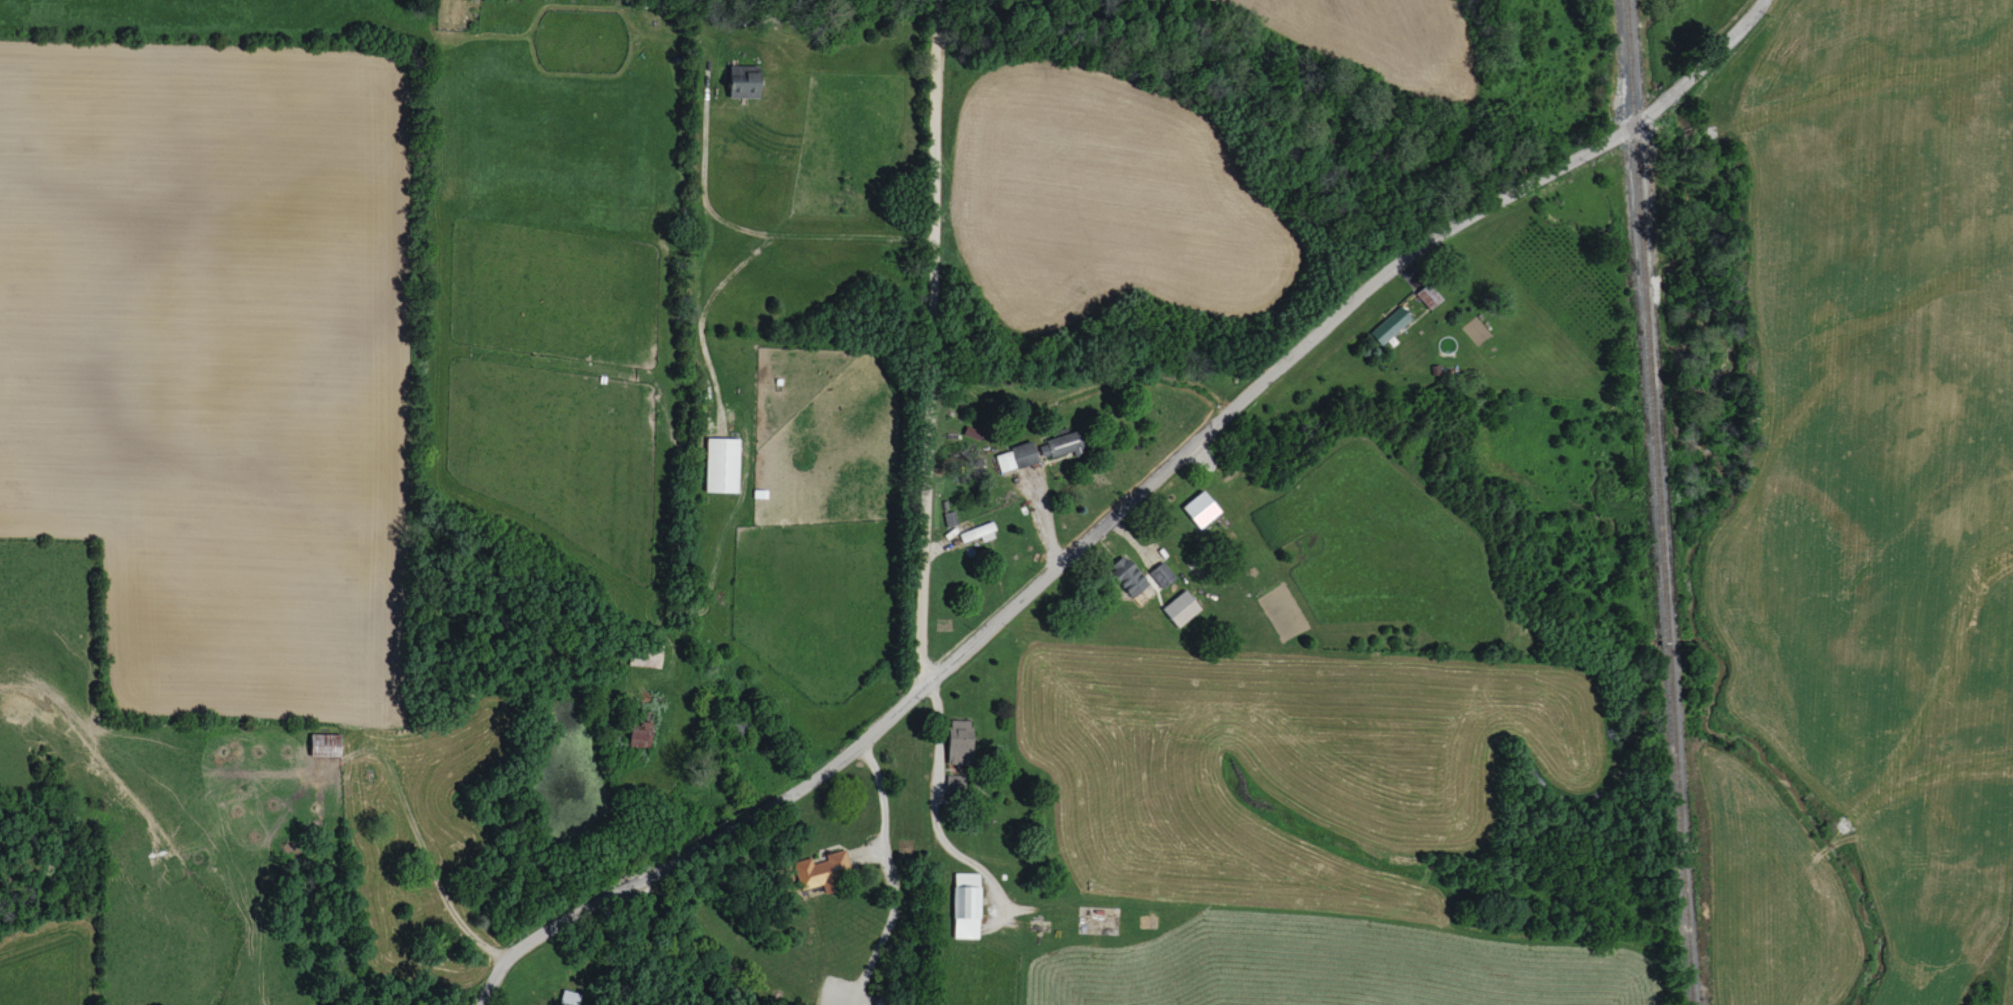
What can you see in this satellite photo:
building: (746, 81)
road: (760, 231)
building: (1430, 295)
building: (1391, 324)
road: (930, 341)
building: (1062, 444)
building: (1018, 456)
building: (723, 464)
road: (1128, 501)
railway: (1658, 502)
building: (1203, 508)
building: (979, 532)
building: (1161, 574)
building: (1130, 575)
building: (1182, 608)
building: (961, 741)
building: (327, 744)
building: (957, 784)
road: (882, 817)
road: (430, 864)
building: (824, 872)
building: (968, 905)
road: (482, 997)
building: (885, 1002)

